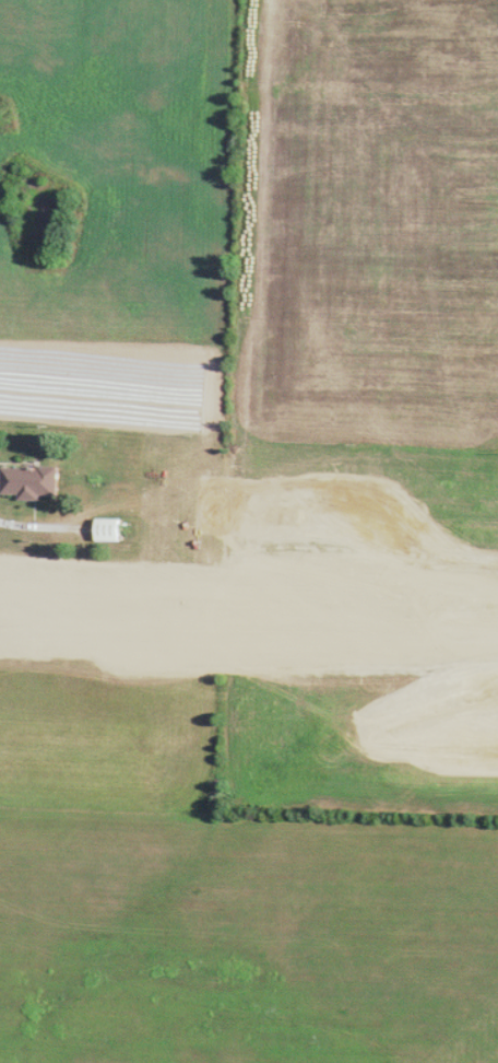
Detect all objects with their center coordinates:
building: (27, 483)
building: (115, 530)

